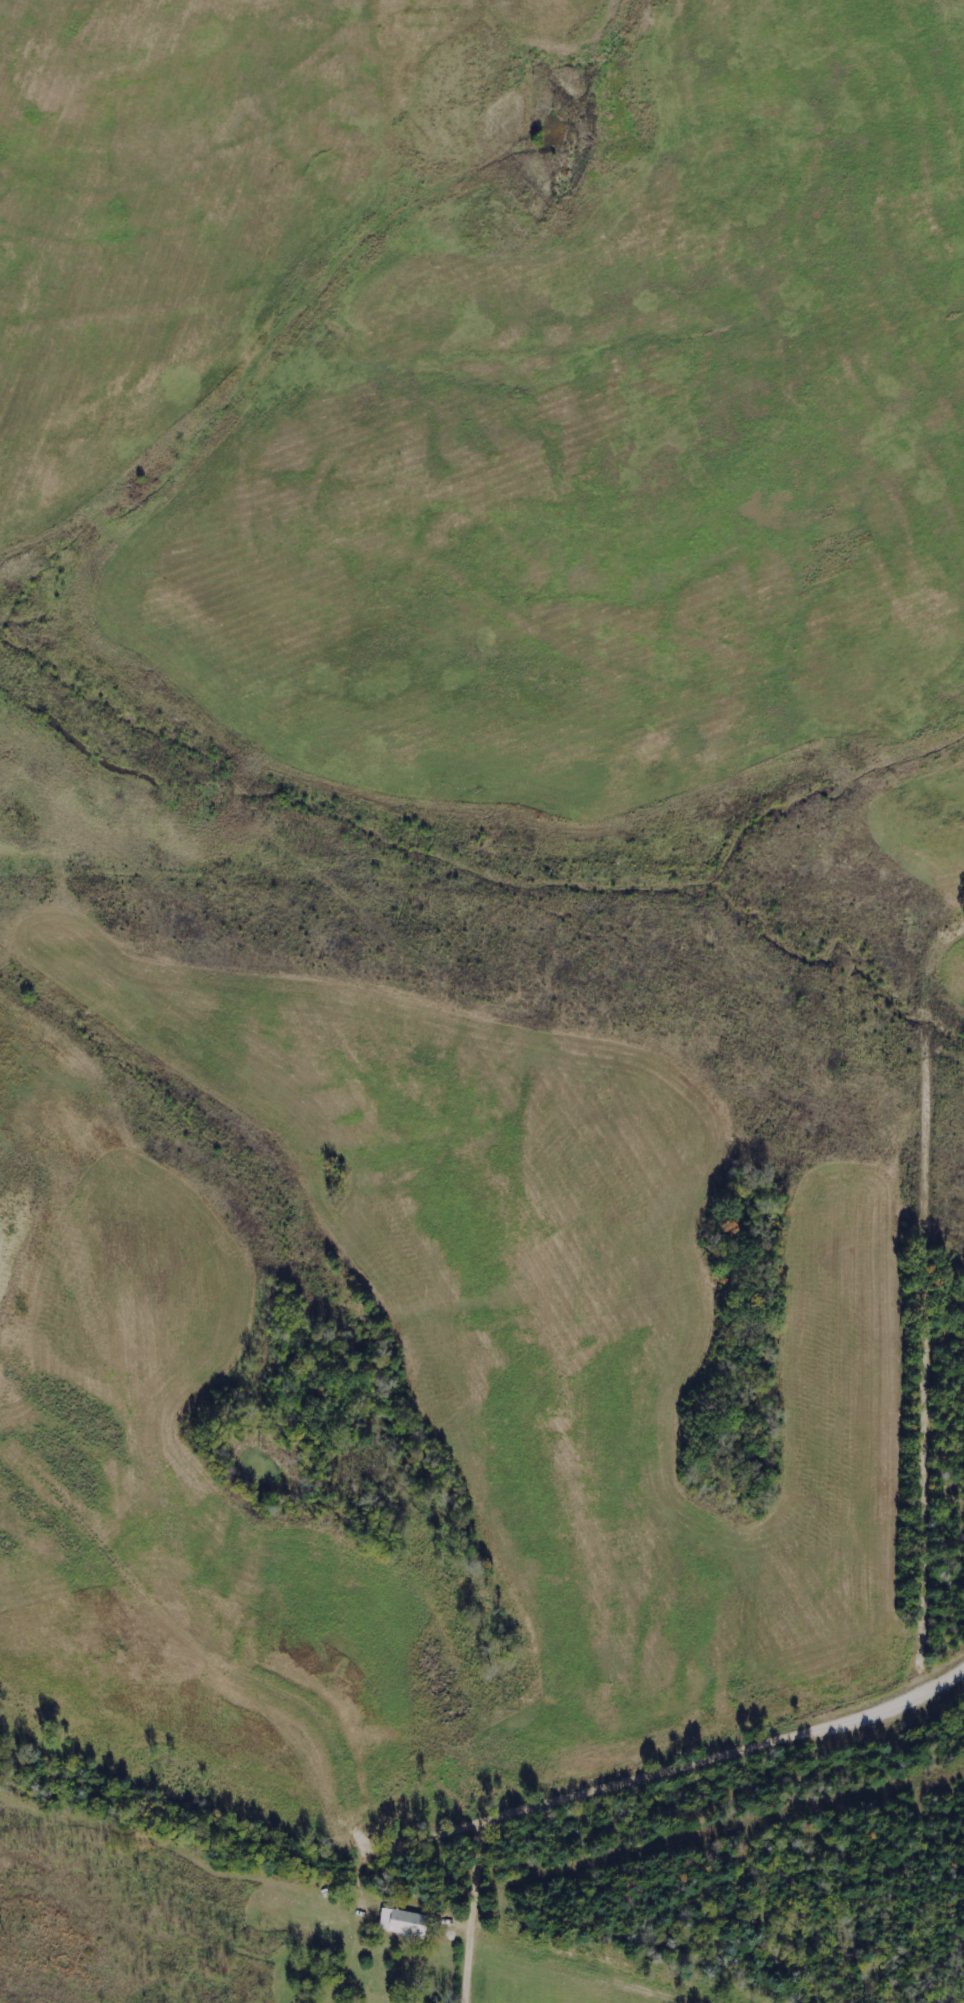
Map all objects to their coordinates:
road: (564, 1787)
road: (511, 1900)
building: (401, 1923)

